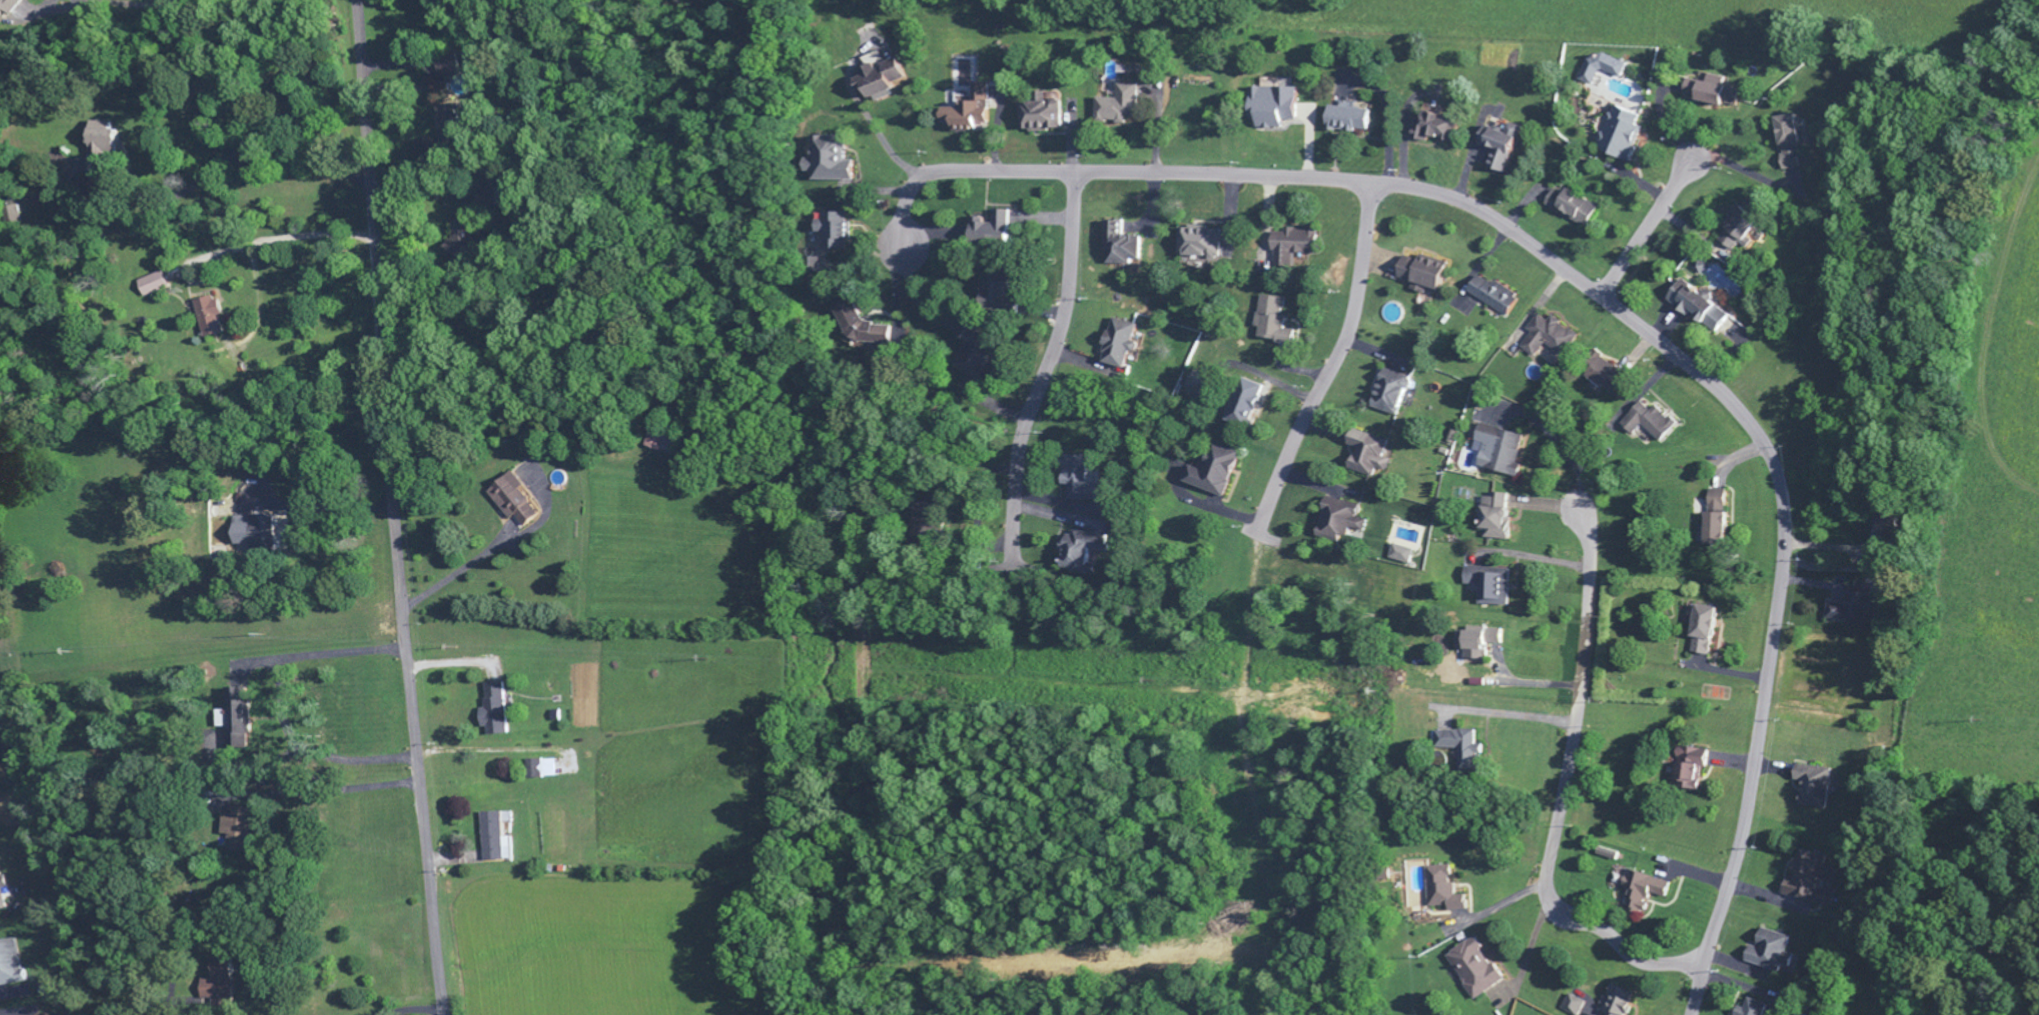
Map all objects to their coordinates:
building: (7, 6)
building: (456, 67)
building: (1601, 69)
building: (881, 82)
building: (1712, 93)
building: (1119, 107)
building: (1274, 107)
building: (969, 112)
building: (1040, 116)
building: (1349, 120)
building: (449, 126)
building: (1436, 127)
building: (1622, 133)
building: (1791, 142)
building: (1503, 146)
building: (101, 149)
building: (832, 162)
building: (496, 199)
building: (1572, 208)
building: (1738, 228)
building: (992, 230)
road: (1643, 232)
building: (835, 233)
building: (459, 242)
building: (1196, 244)
building: (1120, 247)
building: (1292, 247)
building: (1424, 275)
building: (152, 286)
building: (999, 289)
building: (1494, 297)
road: (1617, 307)
building: (1700, 308)
building: (209, 319)
building: (1270, 319)
building: (861, 328)
building: (1546, 338)
building: (1119, 345)
building: (976, 353)
road: (1336, 356)
road: (1047, 366)
building: (1602, 375)
building: (1390, 394)
building: (1244, 405)
building: (1649, 423)
building: (657, 439)
building: (1498, 451)
building: (1367, 455)
building: (1215, 473)
building: (1082, 483)
building: (1720, 501)
building: (513, 502)
road: (393, 508)
building: (924, 514)
building: (1496, 519)
building: (1339, 521)
building: (1719, 530)
building: (254, 533)
building: (1081, 553)
building: (1400, 555)
building: (1491, 586)
building: (1850, 608)
building: (1706, 632)
building: (1478, 644)
building: (493, 711)
building: (236, 720)
building: (1461, 750)
building: (1692, 768)
building: (539, 770)
building: (1814, 788)
road: (1563, 795)
building: (238, 830)
building: (493, 840)
building: (1609, 857)
building: (1812, 882)
building: (1442, 891)
building: (1642, 893)
building: (1, 894)
building: (1772, 954)
building: (9, 965)
building: (1474, 970)
building: (220, 986)
building: (1619, 1002)
building: (1574, 1006)
building: (1754, 1009)

